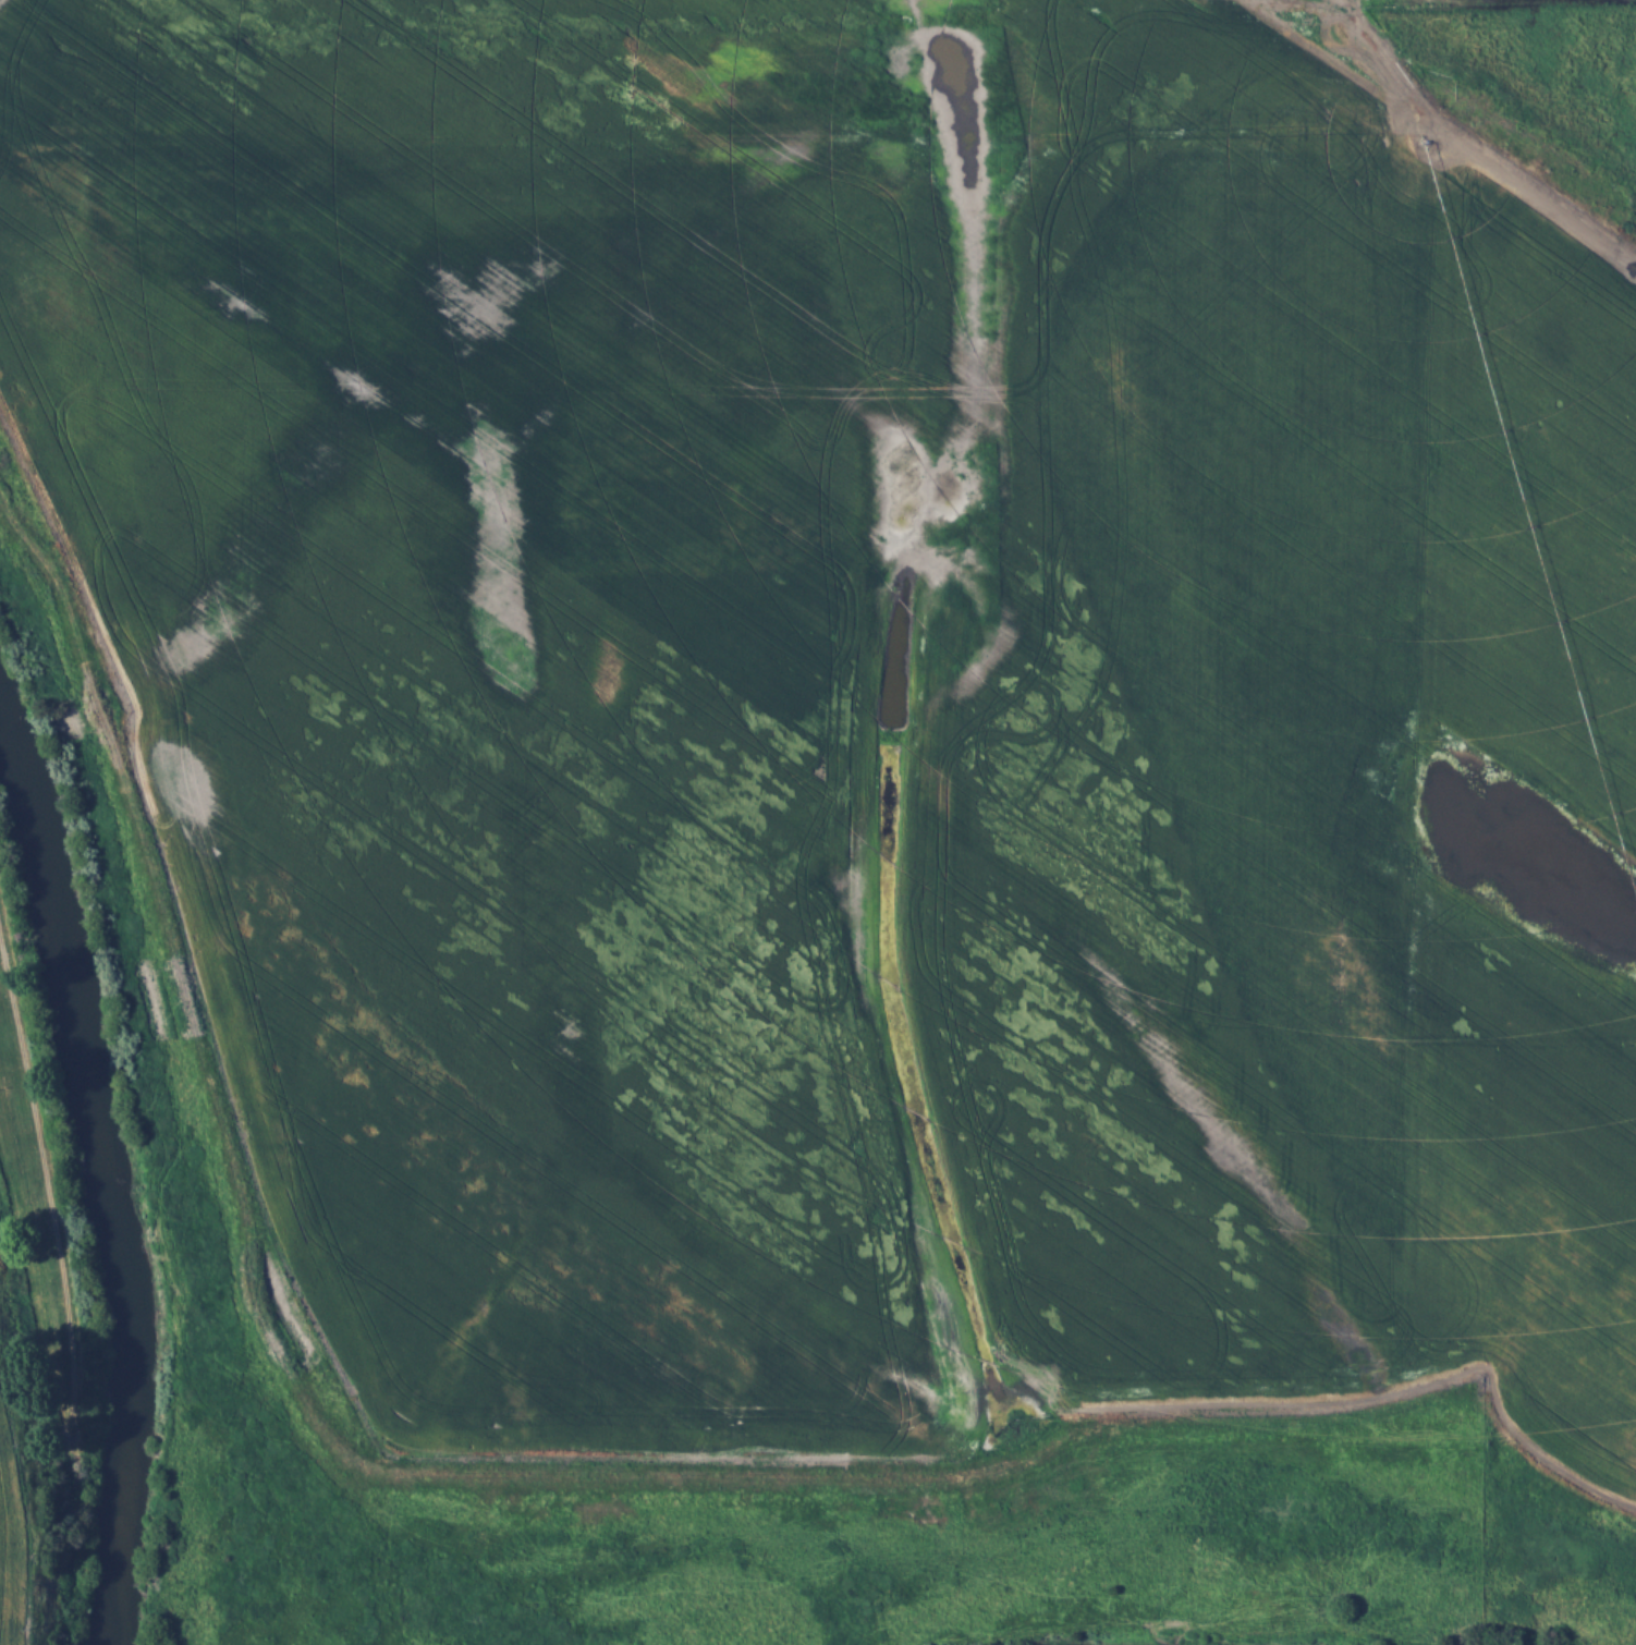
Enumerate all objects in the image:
river: (109, 1171)

